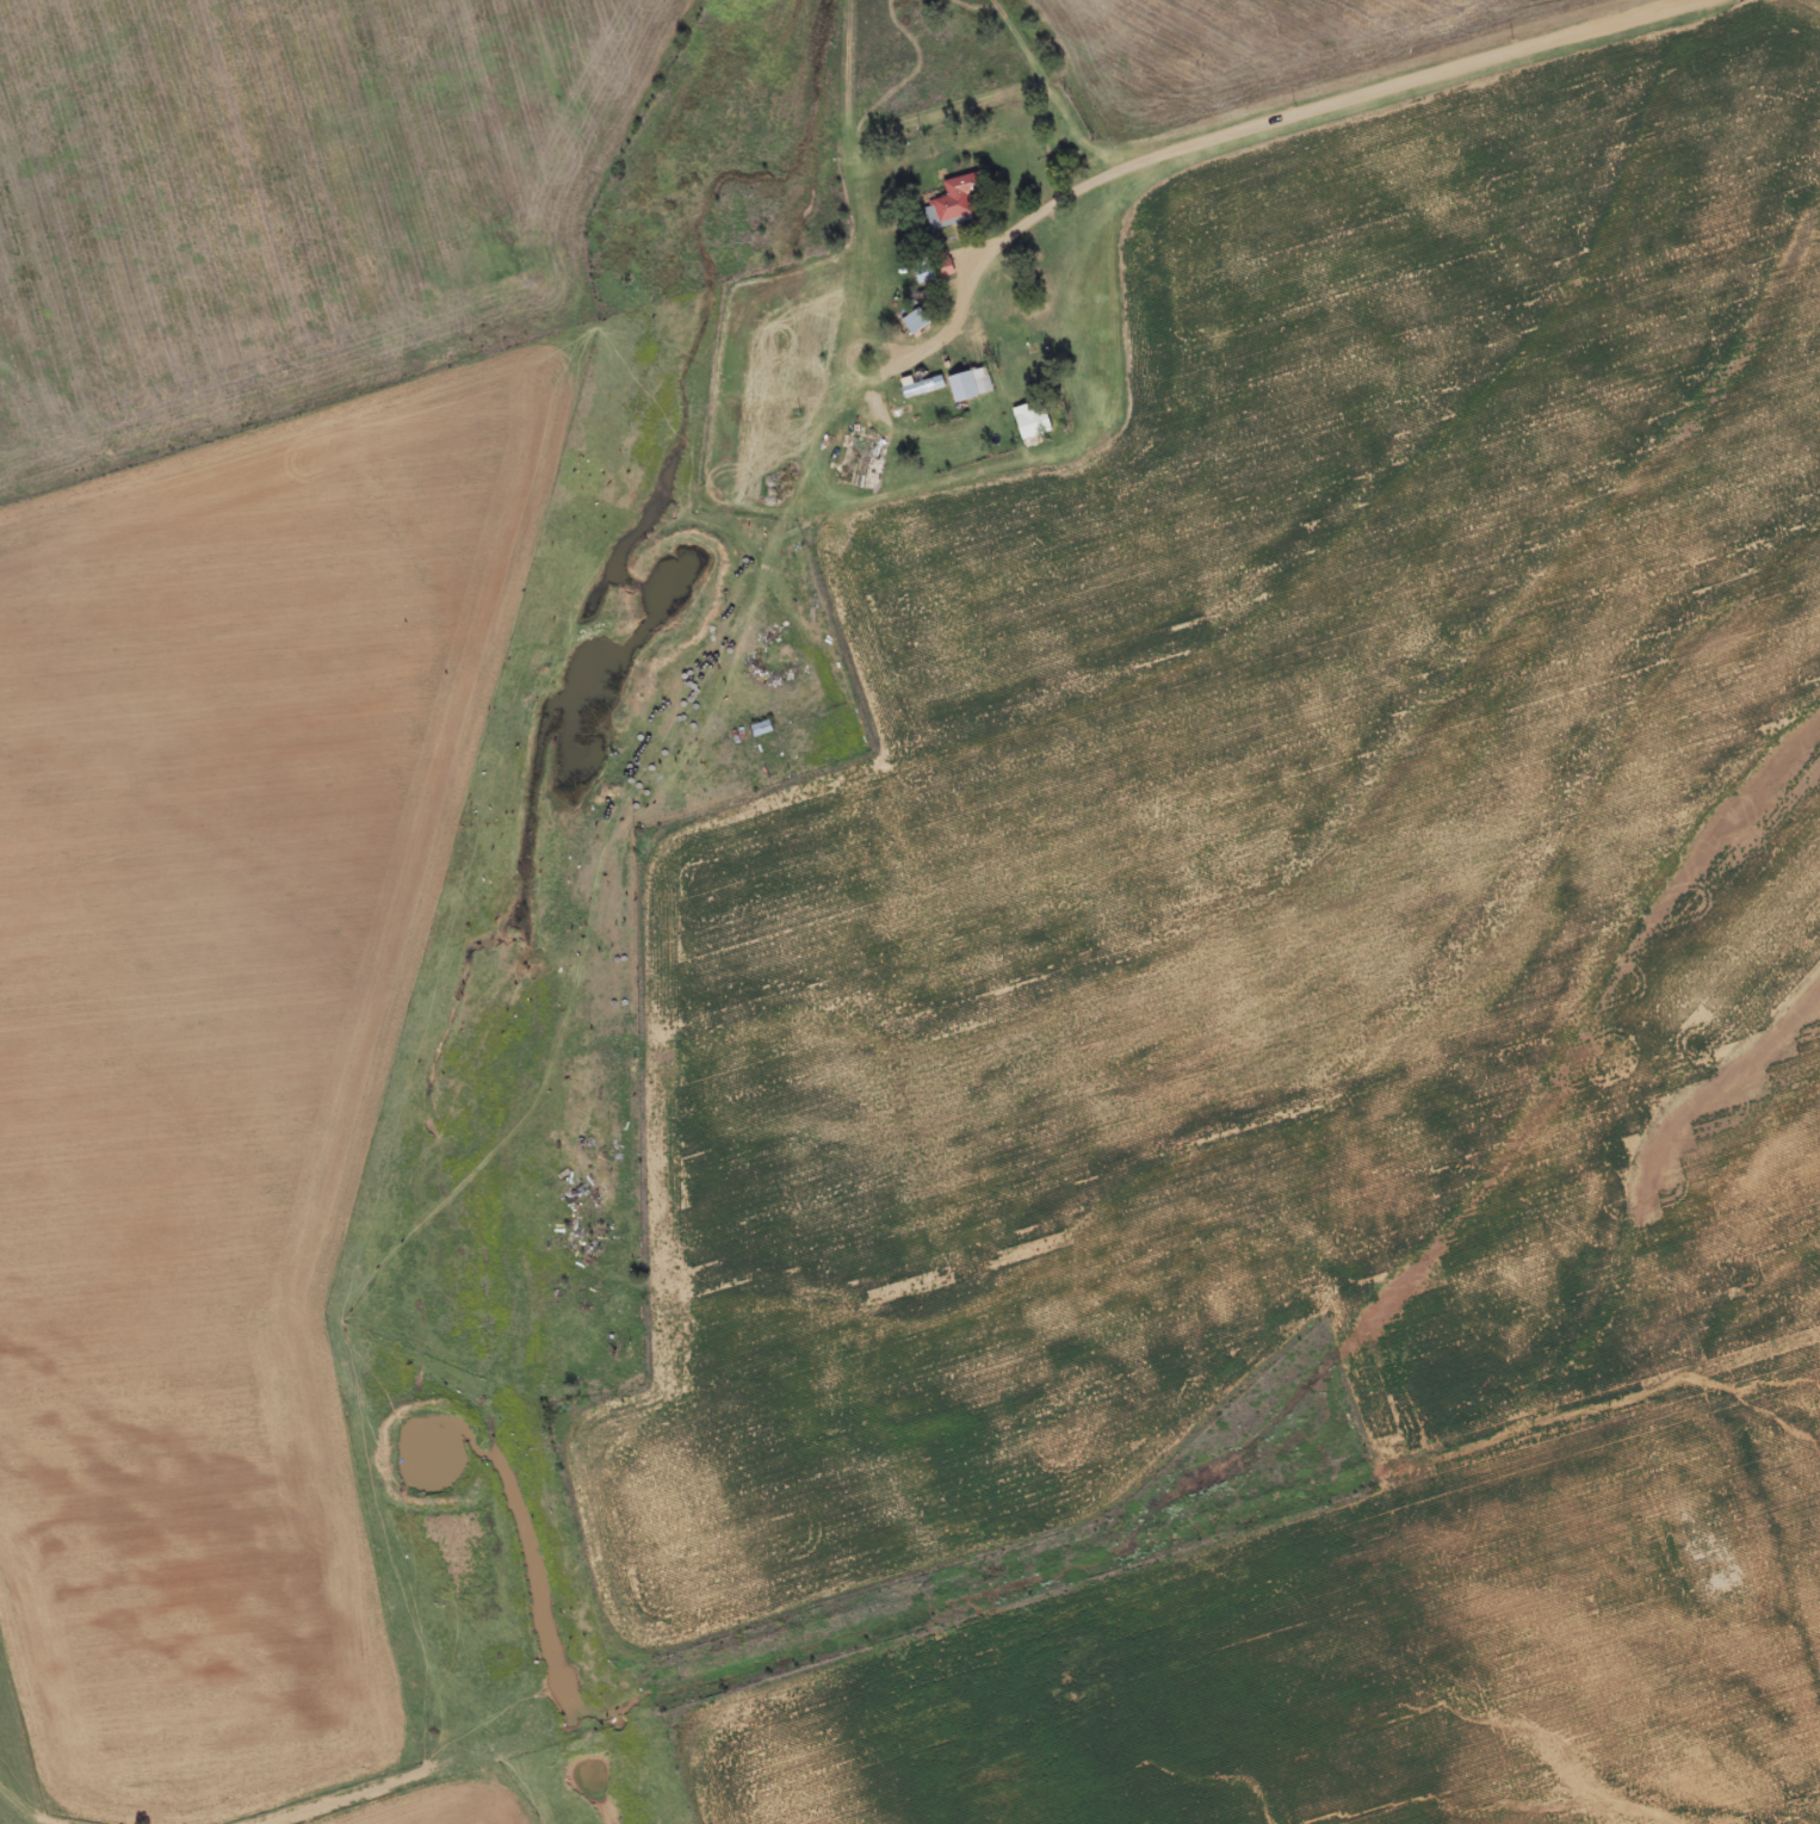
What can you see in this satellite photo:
road: (1227, 134)
building: (964, 203)
building: (923, 322)
building: (966, 383)
building: (1028, 423)
building: (862, 462)
building: (759, 729)

